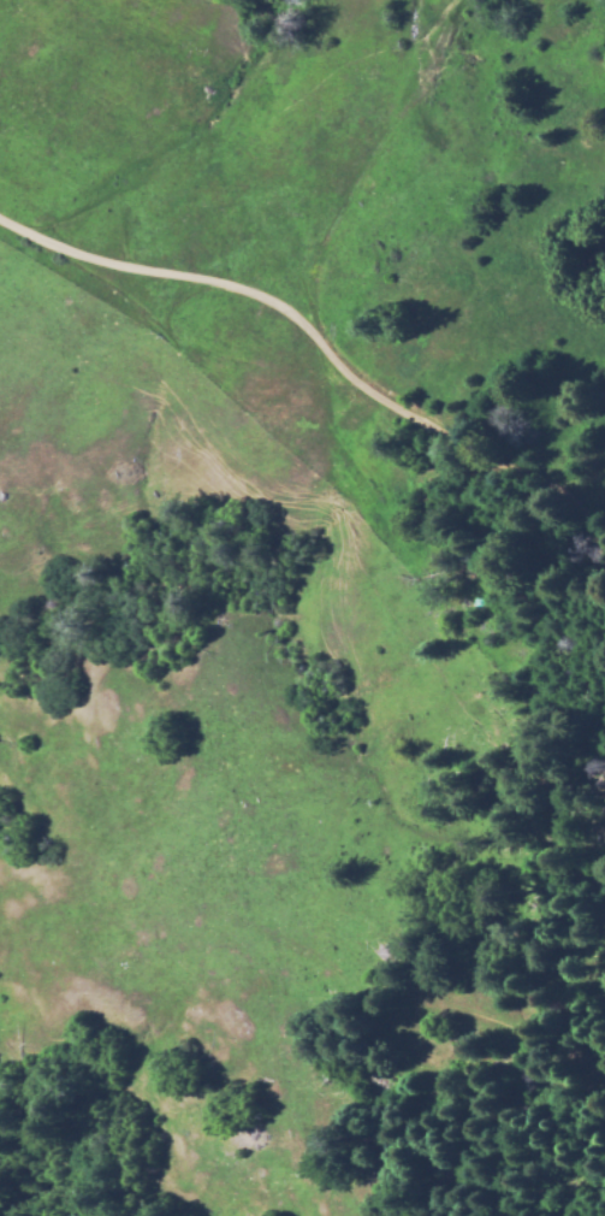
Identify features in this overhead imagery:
road: (312, 389)

